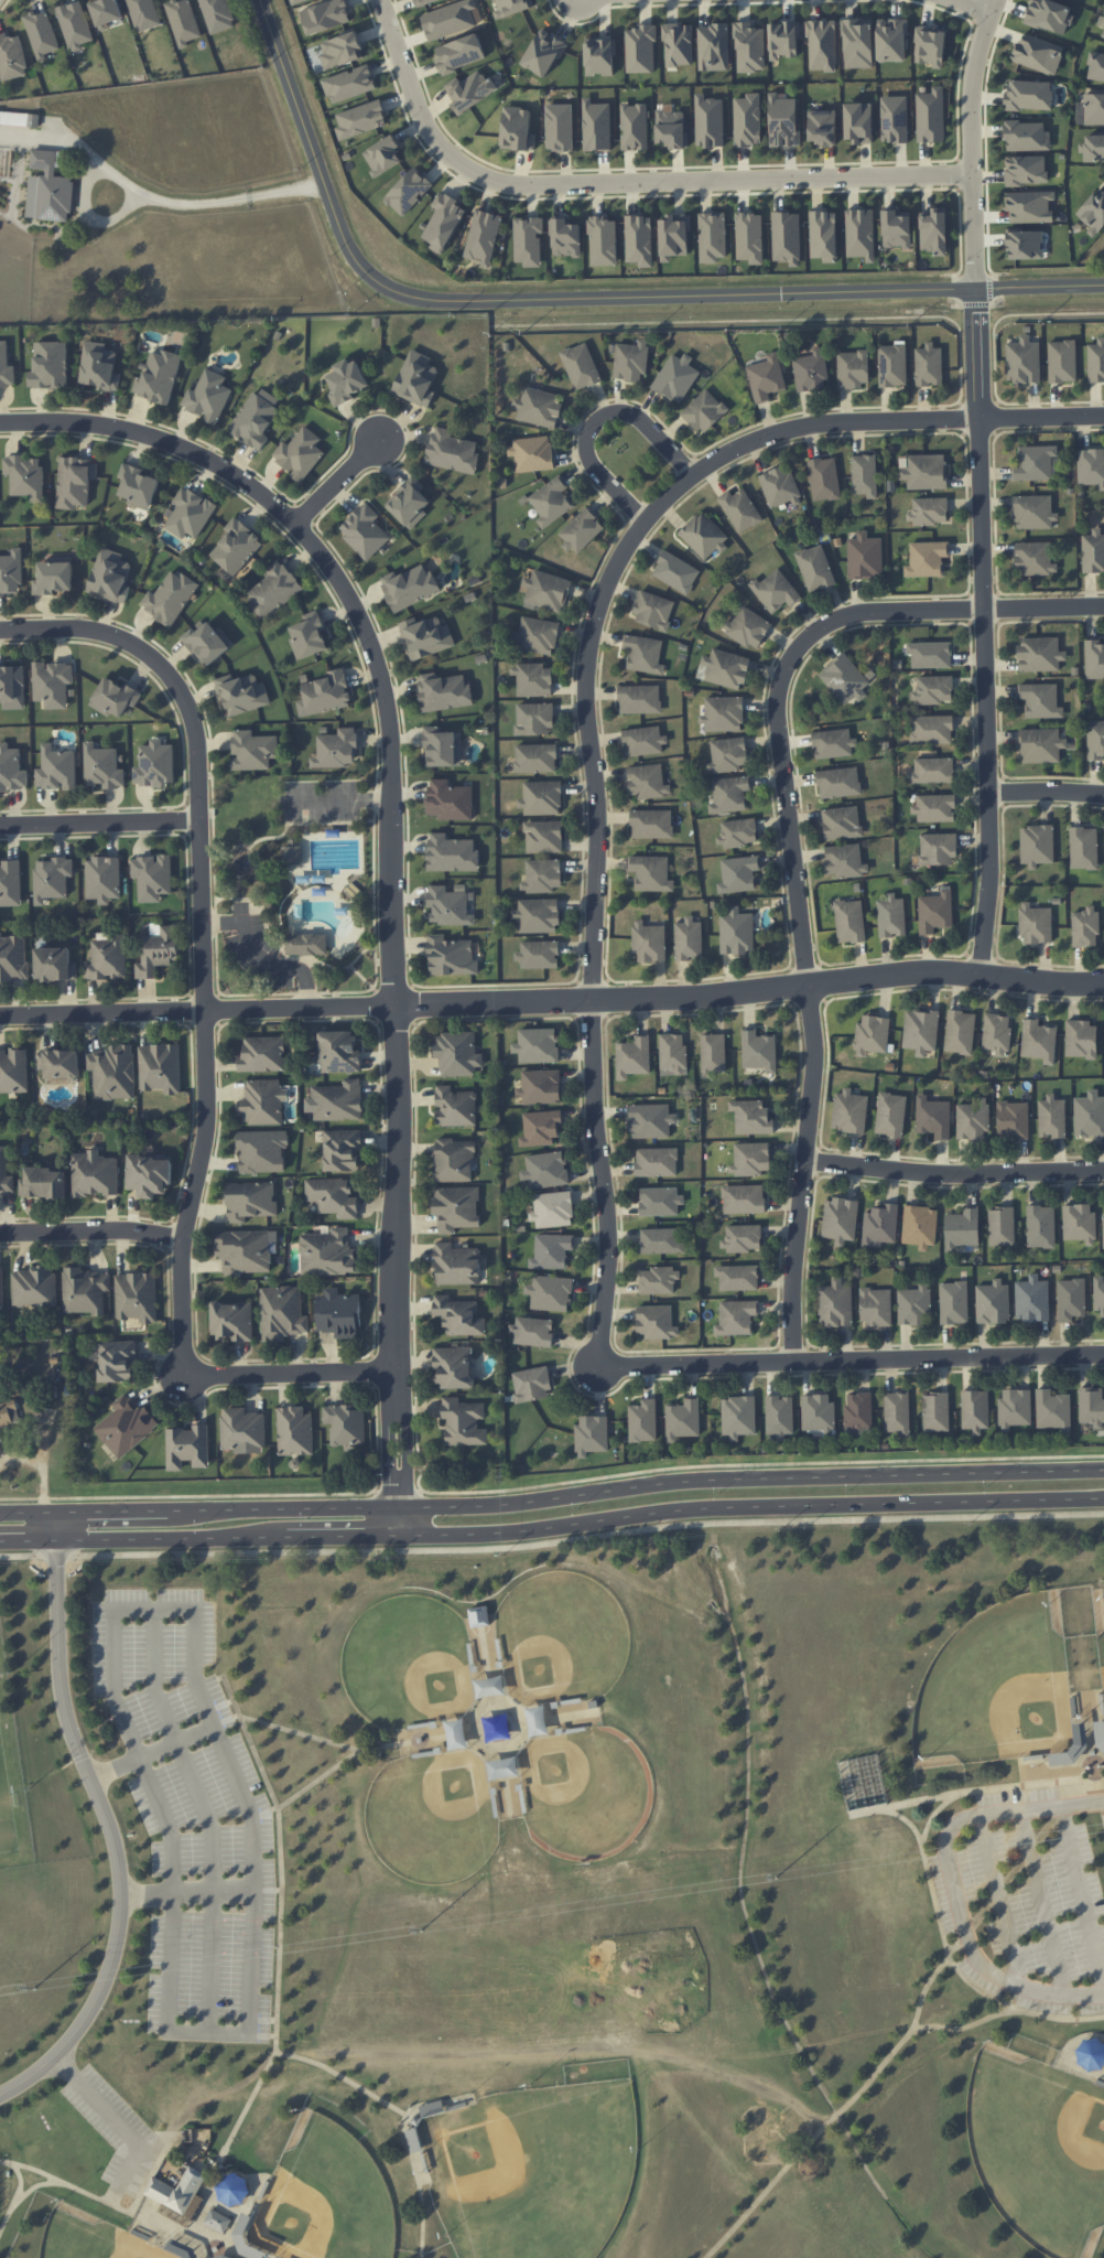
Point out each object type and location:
building: (295, 1)
building: (423, 1)
road: (975, 6)
building: (511, 7)
building: (107, 12)
building: (144, 13)
building: (218, 14)
building: (325, 15)
building: (1049, 15)
building: (448, 19)
building: (183, 21)
building: (75, 24)
building: (41, 33)
building: (1103, 34)
building: (783, 40)
building: (891, 40)
building: (857, 43)
building: (678, 44)
building: (822, 45)
building: (930, 45)
building: (713, 46)
building: (749, 47)
building: (640, 49)
building: (340, 50)
building: (543, 52)
building: (459, 53)
building: (1038, 53)
building: (599, 56)
building: (11, 57)
building: (1095, 67)
building: (349, 84)
building: (470, 90)
building: (1029, 95)
building: (1093, 108)
building: (931, 115)
building: (19, 118)
building: (360, 119)
building: (894, 119)
building: (747, 120)
building: (708, 121)
building: (782, 121)
building: (858, 122)
building: (596, 126)
building: (634, 126)
building: (559, 127)
building: (822, 127)
building: (671, 128)
building: (517, 129)
building: (1026, 136)
road: (985, 141)
road: (972, 142)
building: (1093, 148)
building: (383, 155)
building: (1026, 170)
road: (957, 173)
road: (621, 182)
building: (53, 186)
road: (957, 190)
building: (409, 191)
road: (214, 198)
building: (1029, 206)
building: (1093, 212)
building: (444, 222)
road: (960, 222)
building: (896, 228)
building: (933, 230)
building: (859, 234)
building: (823, 235)
building: (673, 236)
building: (712, 236)
building: (483, 237)
building: (565, 237)
building: (749, 237)
building: (787, 237)
building: (639, 239)
building: (528, 240)
building: (603, 240)
building: (1021, 244)
street lamp: (964, 264)
road: (961, 265)
road: (992, 272)
road: (975, 275)
road: (992, 287)
road: (960, 289)
road: (585, 298)
road: (976, 303)
building: (630, 361)
building: (1022, 361)
building: (1062, 361)
building: (1095, 361)
building: (48, 365)
building: (892, 365)
building: (928, 365)
building: (6, 366)
building: (581, 366)
building: (99, 367)
building: (853, 368)
building: (811, 370)
building: (158, 376)
building: (675, 377)
building: (766, 377)
building: (416, 378)
building: (346, 381)
building: (208, 396)
building: (538, 407)
building: (704, 410)
road: (595, 417)
building: (255, 420)
building: (452, 451)
building: (300, 453)
building: (531, 453)
building: (1035, 462)
building: (1091, 466)
building: (924, 471)
building: (25, 475)
building: (864, 475)
building: (824, 479)
building: (75, 481)
road: (337, 484)
building: (137, 486)
building: (780, 486)
building: (551, 501)
building: (409, 502)
building: (740, 509)
building: (928, 510)
building: (1033, 512)
building: (190, 513)
building: (581, 530)
building: (365, 531)
building: (704, 536)
building: (236, 546)
building: (1093, 551)
building: (865, 557)
building: (927, 558)
building: (1035, 558)
building: (815, 568)
building: (11, 572)
building: (675, 572)
building: (110, 576)
building: (54, 577)
building: (409, 587)
building: (273, 589)
building: (545, 590)
building: (776, 591)
building: (170, 598)
building: (653, 610)
building: (748, 626)
road: (985, 631)
building: (535, 635)
building: (309, 636)
building: (426, 636)
building: (207, 642)
building: (643, 654)
building: (930, 654)
building: (1040, 654)
road: (792, 658)
building: (1094, 659)
building: (726, 668)
building: (845, 678)
building: (533, 679)
building: (52, 682)
building: (12, 686)
building: (933, 689)
building: (444, 691)
building: (242, 692)
building: (325, 693)
building: (115, 697)
building: (640, 699)
building: (1040, 700)
building: (723, 714)
building: (533, 718)
building: (931, 729)
building: (1095, 740)
building: (643, 741)
road: (209, 743)
building: (833, 743)
building: (1041, 745)
building: (442, 748)
building: (336, 749)
building: (252, 750)
building: (728, 754)
building: (535, 757)
building: (155, 764)
building: (102, 766)
building: (11, 768)
building: (56, 768)
building: (932, 771)
road: (389, 776)
building: (647, 781)
building: (838, 782)
road: (1048, 791)
building: (729, 794)
building: (542, 797)
road: (334, 800)
building: (450, 800)
parking lot: (321, 802)
building: (934, 808)
building: (842, 822)
building: (651, 824)
road: (99, 826)
building: (737, 832)
building: (544, 836)
building: (1037, 845)
road: (234, 846)
building: (938, 848)
building: (1083, 848)
building: (452, 853)
building: (292, 854)
building: (844, 860)
building: (651, 873)
building: (739, 873)
building: (542, 875)
building: (152, 877)
building: (52, 878)
building: (102, 879)
road: (213, 879)
building: (10, 882)
building: (448, 906)
building: (935, 912)
building: (537, 915)
building: (891, 916)
building: (849, 921)
building: (1036, 924)
building: (1084, 926)
building: (736, 932)
building: (689, 939)
building: (649, 942)
road: (595, 943)
building: (304, 944)
parking lot: (256, 945)
building: (158, 949)
building: (539, 954)
building: (451, 956)
road: (260, 957)
building: (13, 958)
building: (107, 958)
building: (54, 964)
road: (337, 968)
road: (375, 971)
road: (327, 979)
road: (552, 1001)
building: (921, 1030)
building: (960, 1032)
building: (997, 1033)
building: (872, 1034)
building: (1081, 1039)
road: (207, 1040)
building: (1039, 1040)
building: (537, 1045)
building: (759, 1050)
building: (339, 1052)
building: (457, 1053)
building: (262, 1054)
building: (673, 1054)
building: (713, 1054)
building: (634, 1056)
building: (59, 1063)
building: (160, 1067)
building: (13, 1071)
building: (112, 1072)
building: (539, 1086)
building: (263, 1101)
building: (336, 1101)
building: (455, 1107)
building: (849, 1111)
building: (890, 1114)
building: (1089, 1115)
building: (751, 1117)
building: (933, 1117)
building: (1051, 1117)
building: (973, 1119)
building: (1013, 1119)
building: (651, 1120)
building: (540, 1127)
building: (342, 1149)
building: (262, 1150)
building: (750, 1159)
building: (454, 1160)
building: (657, 1161)
building: (545, 1170)
road: (804, 1172)
road: (954, 1172)
building: (6, 1173)
building: (94, 1174)
building: (149, 1174)
building: (43, 1182)
building: (333, 1196)
building: (744, 1198)
building: (250, 1200)
building: (660, 1201)
building: (456, 1207)
building: (553, 1208)
road: (414, 1215)
building: (840, 1219)
building: (1079, 1223)
building: (880, 1225)
building: (920, 1226)
building: (1002, 1226)
building: (1040, 1226)
building: (962, 1228)
building: (1103, 1228)
road: (93, 1230)
building: (742, 1237)
building: (662, 1240)
building: (245, 1250)
building: (552, 1250)
building: (327, 1252)
building: (456, 1265)
building: (737, 1277)
building: (658, 1280)
building: (34, 1287)
building: (1, 1288)
building: (85, 1290)
building: (550, 1292)
building: (1098, 1294)
building: (137, 1297)
building: (1032, 1299)
building: (1071, 1299)
building: (953, 1302)
building: (993, 1302)
building: (835, 1304)
building: (913, 1304)
building: (875, 1307)
building: (281, 1313)
building: (338, 1313)
building: (458, 1315)
building: (737, 1318)
building: (232, 1320)
building: (656, 1321)
building: (532, 1331)
building: (116, 1361)
building: (454, 1366)
road: (374, 1369)
building: (531, 1384)
road: (371, 1385)
street lamp: (377, 1385)
road: (397, 1388)
road: (186, 1402)
building: (1092, 1406)
building: (1015, 1408)
building: (975, 1410)
building: (1053, 1410)
building: (8, 1411)
building: (935, 1411)
building: (858, 1412)
building: (897, 1412)
building: (819, 1413)
building: (738, 1416)
building: (779, 1416)
building: (683, 1419)
building: (643, 1420)
building: (464, 1421)
building: (345, 1423)
building: (126, 1426)
building: (242, 1428)
building: (294, 1431)
building: (592, 1434)
building: (187, 1447)
road: (680, 1466)
road: (407, 1469)
road: (391, 1470)
road: (635, 1485)
road: (755, 1507)
road: (110, 1512)
road: (26, 1513)
street lamp: (307, 1517)
street lamp: (202, 1525)
road: (54, 1527)
street lamp: (98, 1529)
road: (342, 1537)
road: (166, 1539)
road: (28, 1541)
road: (152, 1600)
building: (479, 1616)
park: (1098, 1623)
park: (561, 1635)
road: (193, 1641)
park: (408, 1660)
road: (488, 1675)
building: (490, 1687)
park: (995, 1687)
road: (559, 1717)
road: (512, 1718)
building: (538, 1721)
road: (123, 1722)
building: (496, 1725)
road: (284, 1730)
building: (456, 1734)
building: (1100, 1734)
building: (1079, 1736)
road: (1090, 1742)
road: (364, 1750)
road: (1097, 1751)
road: (152, 1752)
building: (502, 1767)
road: (1101, 1792)
park: (589, 1793)
road: (906, 1805)
park: (7, 1806)
parking lot: (196, 1808)
road: (204, 1811)
park: (435, 1816)
road: (906, 1820)
road: (113, 1838)
road: (251, 1850)
road: (278, 1853)
road: (955, 1883)
road: (931, 1884)
road: (187, 1895)
road: (1082, 1895)
parking lot: (1027, 1896)
park: (559, 1900)
road: (999, 1901)
road: (1041, 1903)
road: (174, 1934)
road: (964, 2025)
road: (209, 2032)
road: (899, 2043)
road: (66, 2065)
road: (248, 2105)
road: (746, 2112)
road: (404, 2117)
parking lot: (118, 2130)
road: (125, 2130)
building: (413, 2139)
road: (786, 2141)
park: (1039, 2147)
building: (810, 2166)
park: (540, 2168)
road: (20, 2181)
building: (183, 2193)
park: (327, 2194)
road: (20, 2200)
road: (123, 2211)
building: (217, 2221)
building: (243, 2227)
park: (94, 2237)
road: (213, 2254)
building: (219, 2256)

